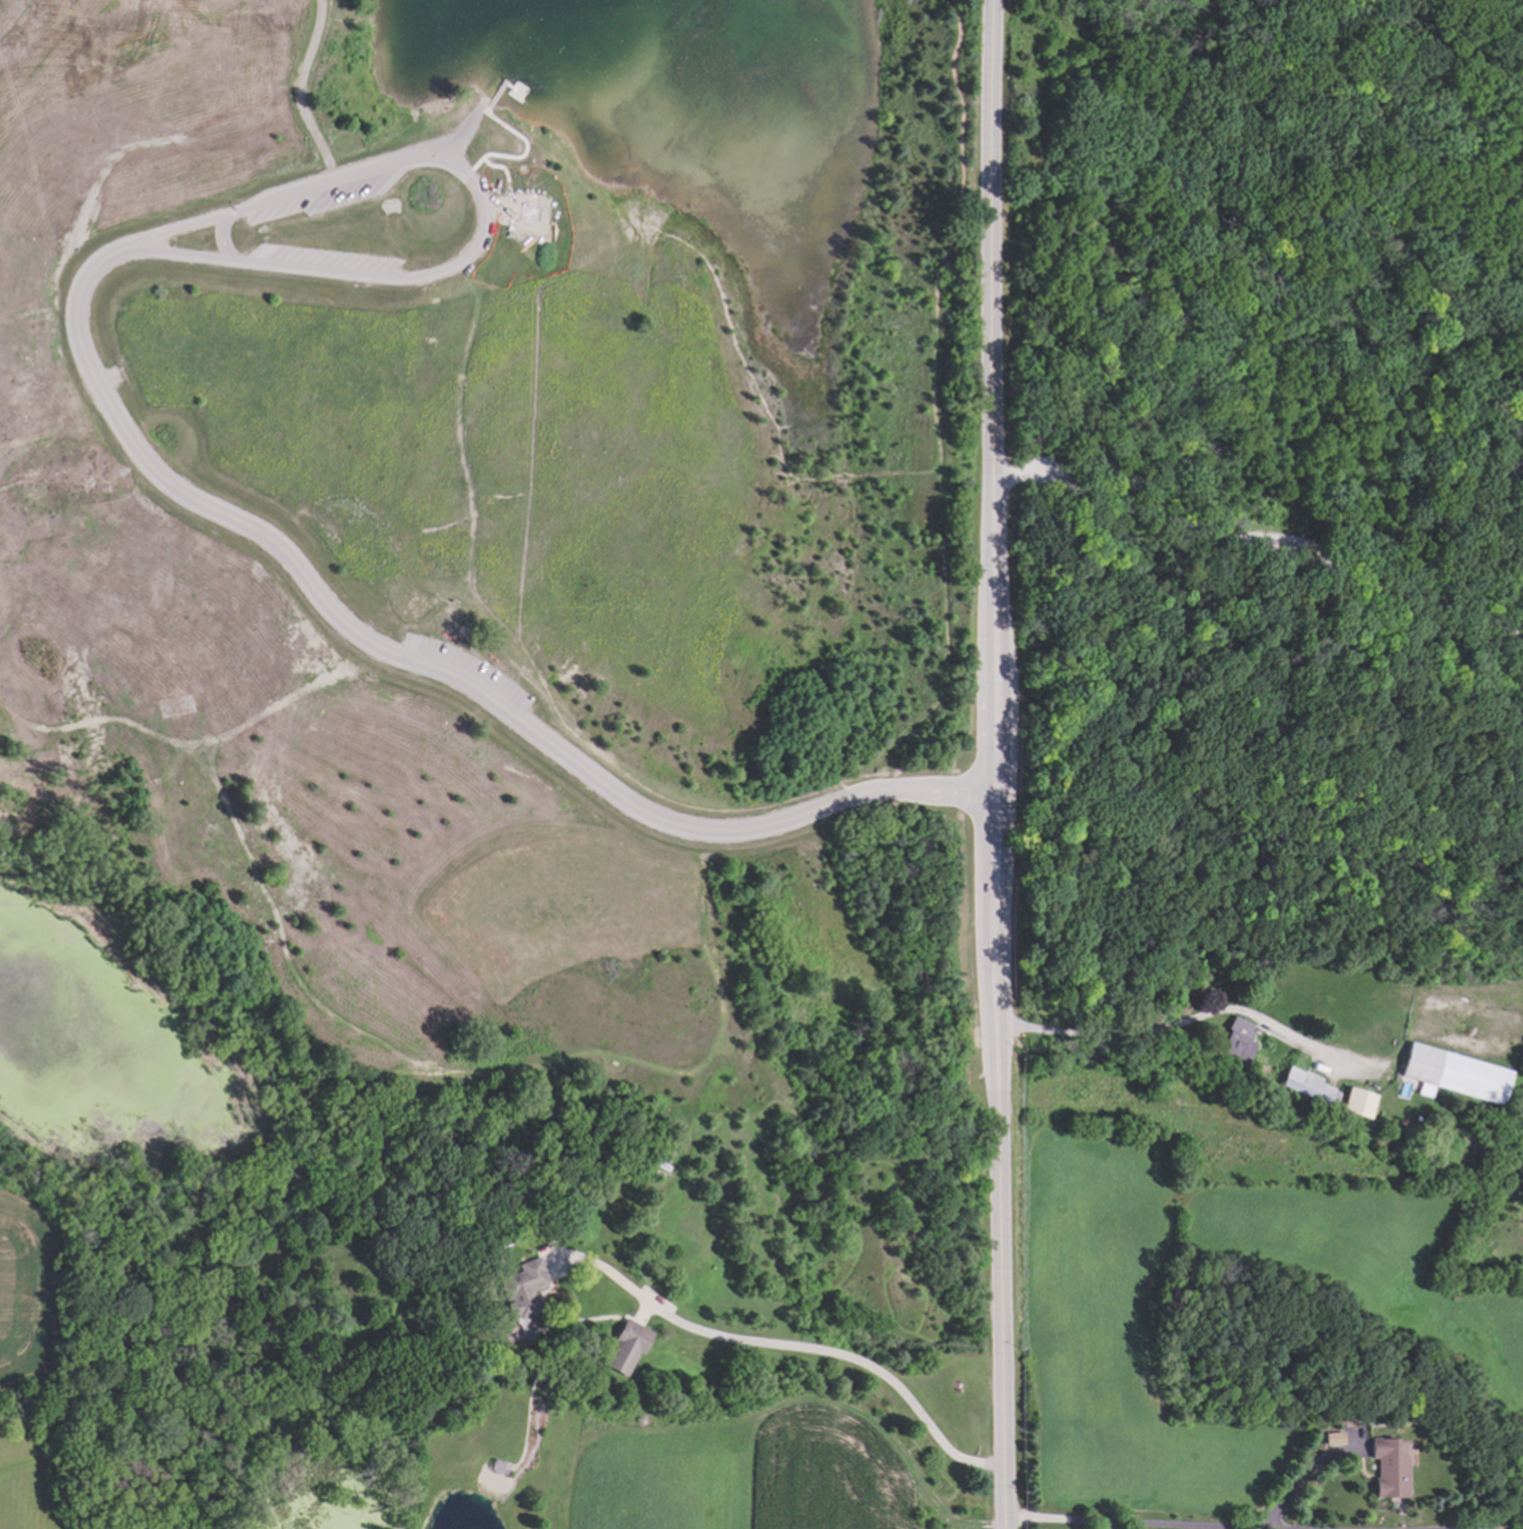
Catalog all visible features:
road: (300, 88)
road: (466, 114)
road: (490, 180)
parking lot: (328, 183)
road: (219, 236)
parking lot: (335, 243)
road: (40, 309)
road: (461, 387)
parking lot: (1043, 463)
road: (1023, 466)
road: (937, 481)
road: (1287, 548)
park: (459, 632)
road: (433, 663)
parking lot: (459, 666)
road: (199, 739)
road: (990, 764)
road: (1188, 1018)
building: (1236, 1046)
building: (1453, 1076)
road: (407, 1079)
building: (1308, 1085)
building: (1357, 1101)
building: (527, 1286)
building: (627, 1343)
road: (794, 1345)
building: (499, 1463)
park: (121, 1467)
building: (1388, 1467)
road: (1308, 1477)
road: (1154, 1522)

